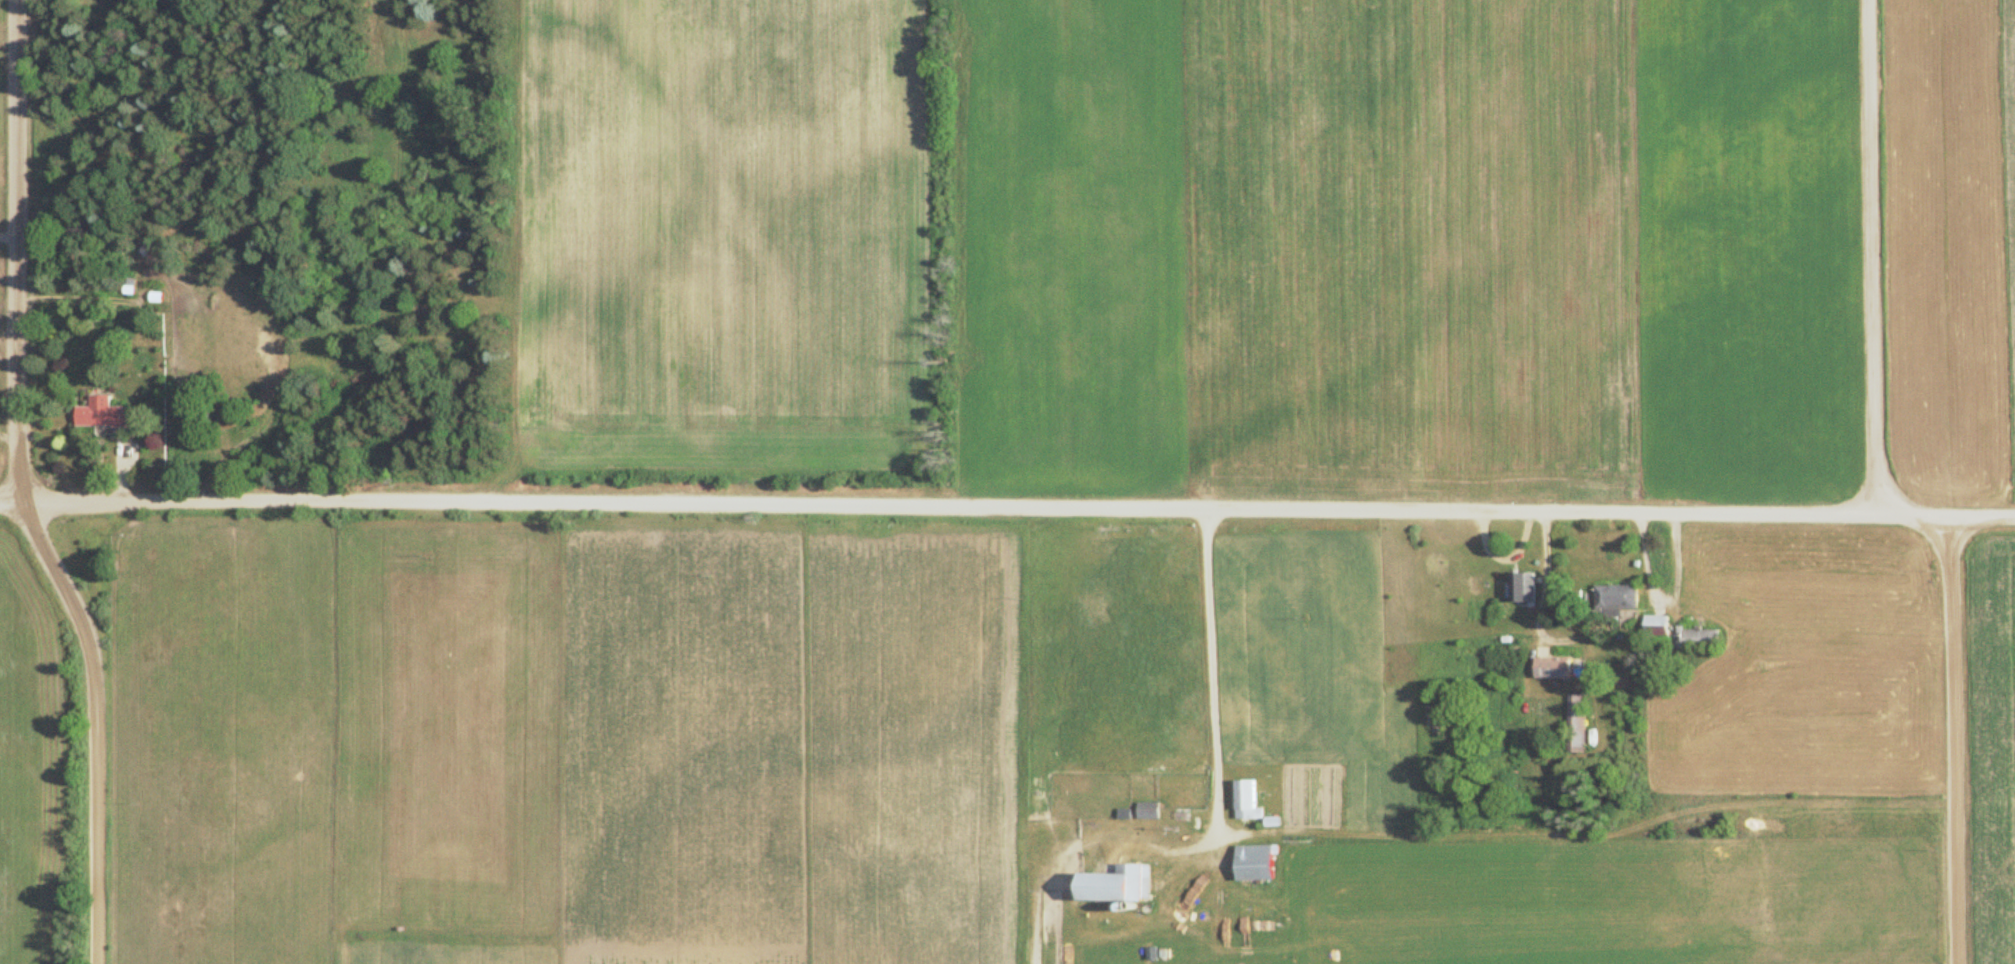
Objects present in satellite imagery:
road: (19, 249)
road: (1873, 255)
building: (98, 413)
road: (71, 498)
road: (1079, 505)
building: (1519, 587)
building: (1609, 599)
building: (1675, 635)
building: (1548, 668)
road: (91, 722)
building: (1573, 723)
road: (1955, 739)
building: (1242, 800)
building: (1144, 810)
building: (1171, 815)
building: (1250, 862)
building: (1110, 885)

